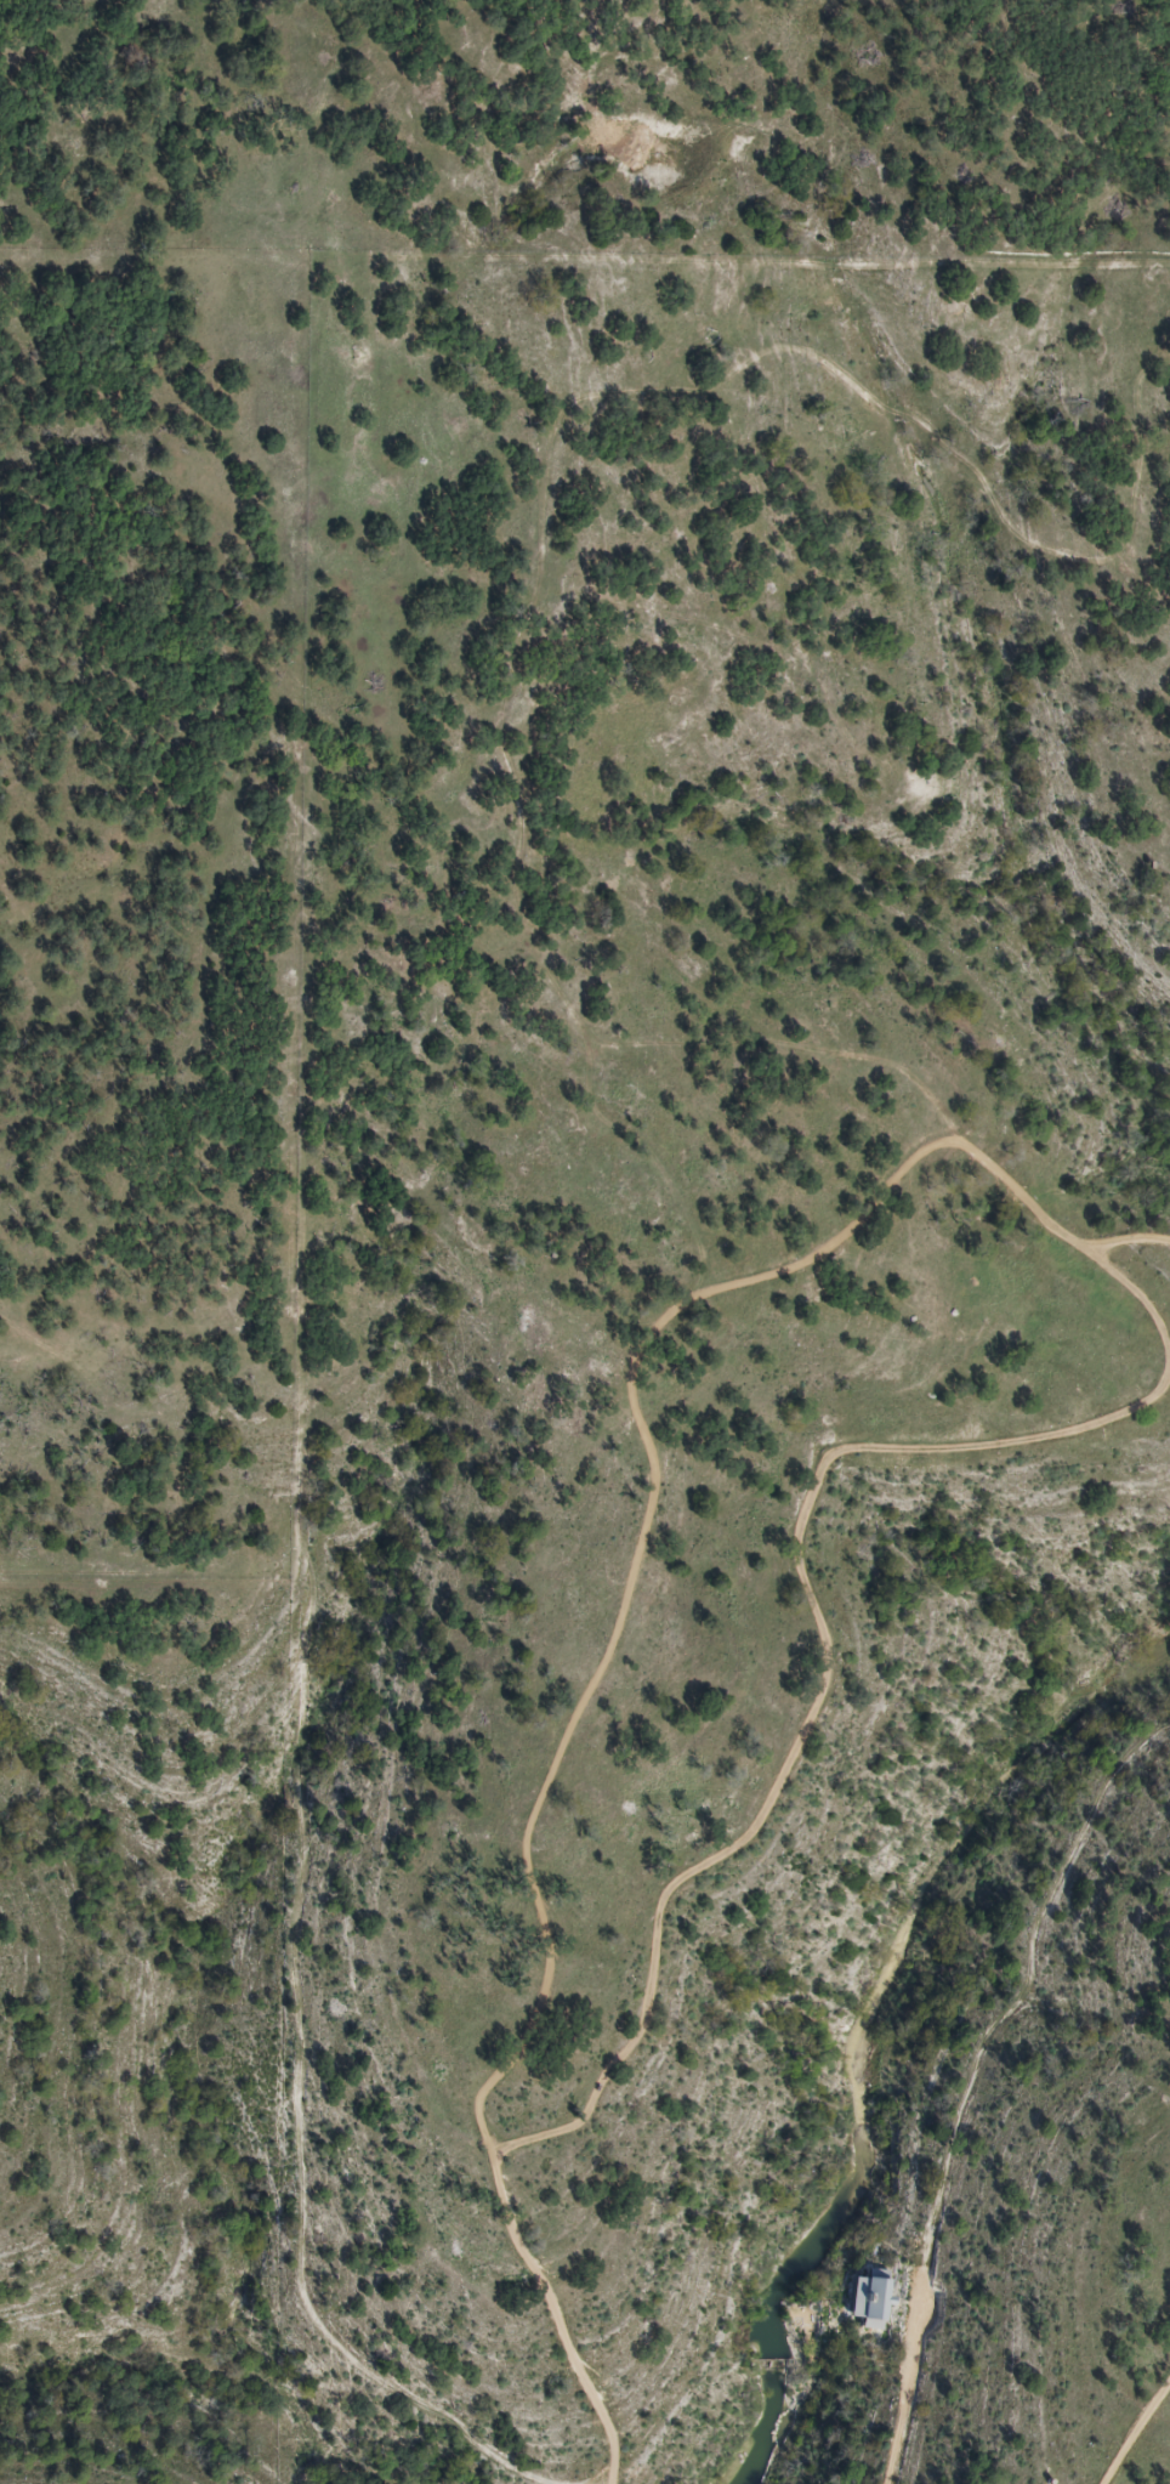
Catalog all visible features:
building: (865, 2299)

